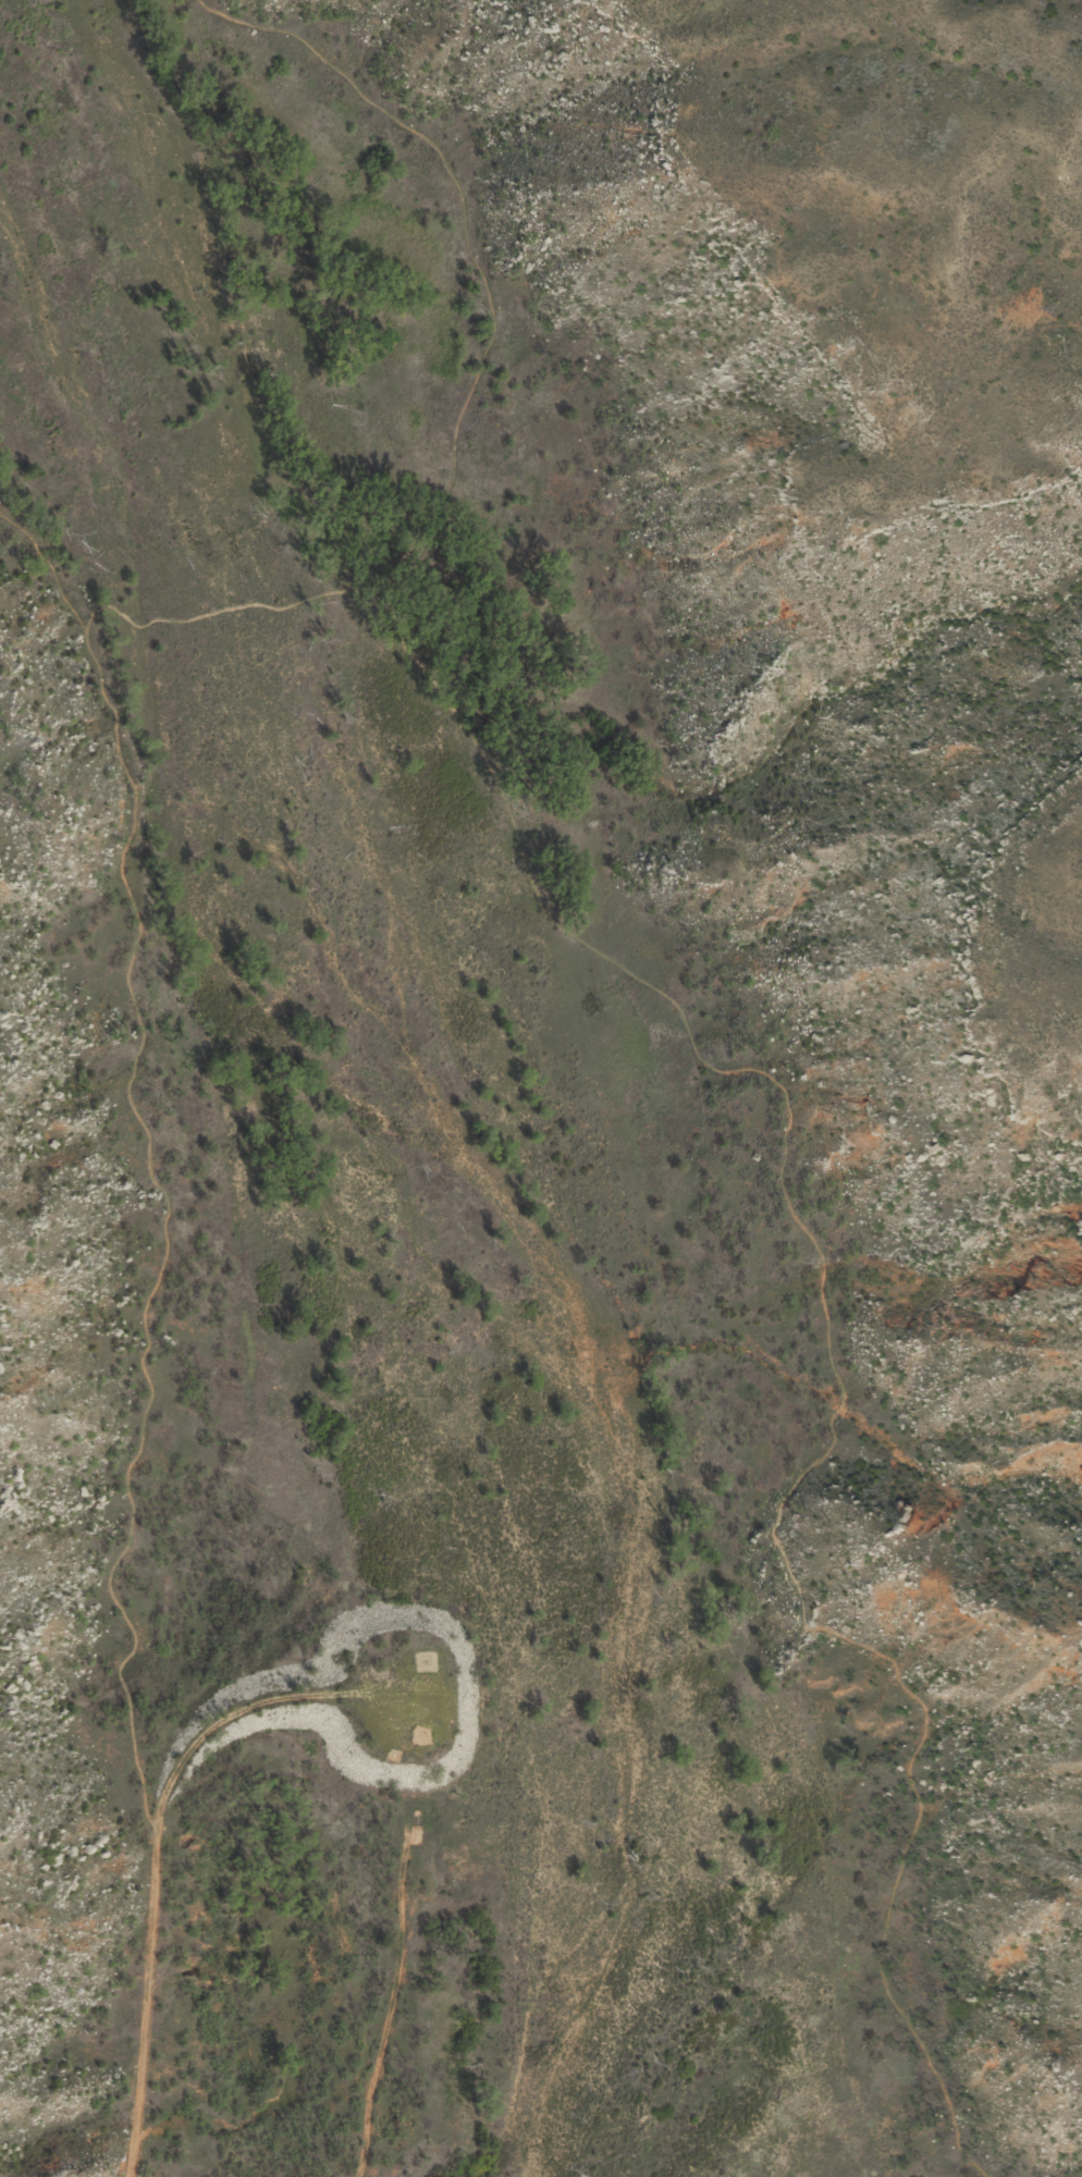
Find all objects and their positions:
road: (162, 1868)

